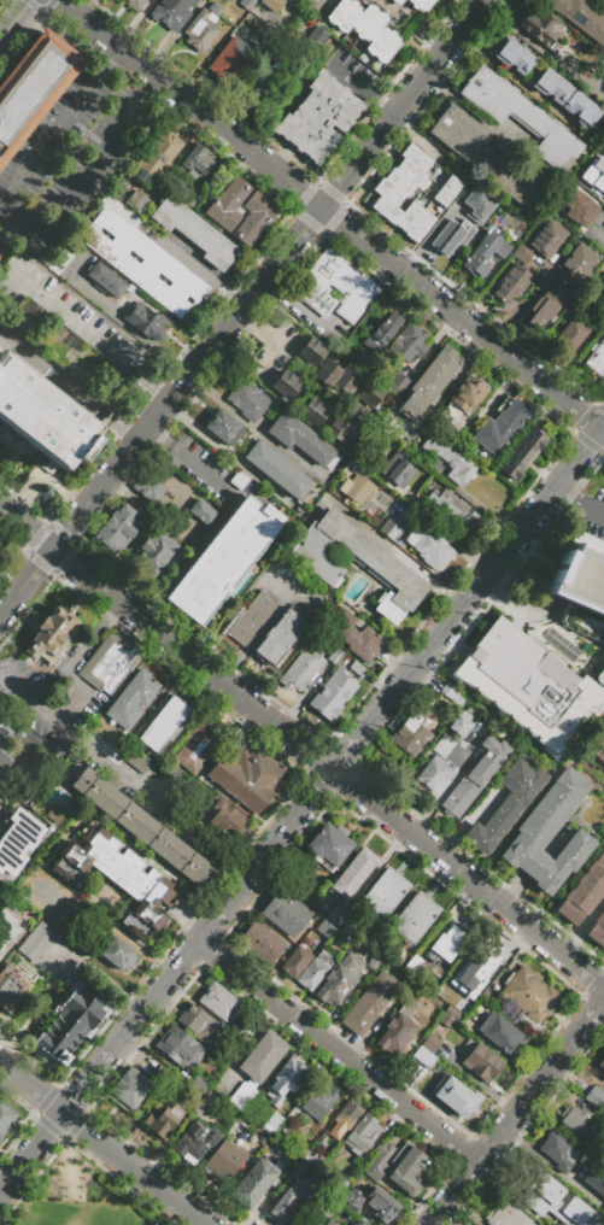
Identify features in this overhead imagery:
road: (481, 1)
building: (397, 2)
building: (134, 4)
building: (247, 4)
building: (272, 5)
building: (420, 5)
road: (69, 10)
building: (172, 12)
building: (581, 17)
road: (14, 19)
building: (204, 27)
building: (539, 27)
building: (365, 28)
building: (416, 31)
building: (316, 35)
parking lot: (420, 35)
road: (172, 37)
road: (430, 43)
building: (414, 45)
road: (543, 49)
building: (512, 55)
building: (231, 59)
road: (203, 63)
building: (550, 86)
building: (31, 87)
road: (520, 87)
building: (262, 88)
road: (231, 90)
road: (359, 90)
road: (74, 96)
building: (581, 110)
road: (474, 112)
building: (518, 115)
building: (319, 118)
road: (258, 124)
road: (416, 140)
parking lot: (287, 146)
building: (485, 156)
road: (278, 157)
parking lot: (76, 159)
building: (158, 159)
building: (195, 162)
building: (594, 174)
road: (83, 178)
road: (587, 188)
building: (446, 191)
building: (404, 193)
building: (188, 199)
building: (135, 200)
building: (477, 204)
building: (579, 206)
building: (239, 211)
road: (342, 224)
building: (194, 233)
road: (429, 235)
building: (448, 235)
building: (547, 239)
road: (596, 239)
building: (483, 253)
parking lot: (251, 254)
building: (523, 254)
building: (63, 259)
building: (140, 260)
road: (199, 260)
road: (262, 260)
building: (576, 262)
building: (105, 280)
building: (511, 283)
building: (335, 286)
road: (485, 289)
road: (518, 301)
road: (242, 306)
road: (298, 307)
building: (545, 307)
building: (145, 321)
road: (130, 330)
building: (573, 332)
building: (381, 333)
road: (80, 334)
road: (251, 339)
building: (272, 341)
building: (409, 342)
building: (311, 352)
road: (532, 352)
road: (569, 356)
building: (596, 358)
building: (370, 368)
building: (336, 377)
road: (452, 377)
parking lot: (149, 379)
road: (564, 379)
road: (262, 380)
road: (70, 383)
building: (287, 383)
building: (428, 383)
road: (159, 387)
building: (369, 393)
building: (246, 399)
building: (462, 400)
building: (313, 411)
building: (42, 415)
building: (347, 424)
building: (500, 426)
building: (223, 427)
road: (253, 427)
road: (603, 428)
building: (398, 430)
road: (603, 430)
building: (299, 438)
road: (222, 449)
building: (522, 452)
building: (448, 458)
road: (190, 461)
building: (397, 468)
building: (276, 469)
building: (239, 480)
building: (147, 487)
building: (357, 488)
road: (553, 493)
road: (171, 503)
road: (580, 503)
building: (452, 506)
building: (201, 512)
building: (117, 528)
building: (391, 528)
road: (198, 541)
building: (428, 546)
building: (1, 551)
building: (153, 552)
building: (222, 559)
building: (316, 562)
road: (488, 578)
building: (581, 586)
road: (517, 612)
building: (251, 619)
road: (517, 621)
building: (280, 635)
road: (258, 637)
building: (54, 639)
building: (360, 641)
road: (166, 645)
building: (334, 655)
building: (109, 663)
building: (357, 669)
building: (301, 670)
road: (417, 672)
building: (600, 676)
building: (526, 685)
building: (332, 693)
building: (131, 698)
building: (163, 723)
building: (461, 726)
building: (410, 732)
building: (107, 734)
building: (24, 738)
building: (597, 745)
building: (195, 746)
building: (442, 746)
building: (5, 755)
road: (347, 760)
building: (137, 763)
building: (248, 776)
building: (432, 776)
building: (474, 778)
road: (127, 780)
building: (505, 804)
building: (188, 811)
building: (224, 820)
building: (141, 827)
building: (550, 833)
road: (286, 840)
building: (16, 842)
building: (329, 844)
building: (353, 872)
building: (116, 877)
road: (469, 883)
building: (582, 891)
building: (382, 892)
building: (287, 913)
building: (414, 918)
building: (329, 921)
road: (219, 926)
building: (10, 928)
building: (597, 932)
building: (260, 942)
building: (36, 943)
building: (444, 948)
building: (369, 954)
building: (118, 955)
building: (295, 961)
building: (473, 965)
building: (313, 971)
building: (417, 972)
building: (339, 979)
building: (12, 989)
building: (528, 995)
road: (158, 1000)
building: (217, 1001)
building: (369, 1003)
building: (464, 1003)
road: (259, 1012)
building: (448, 1015)
road: (594, 1015)
road: (324, 1022)
building: (71, 1024)
building: (200, 1025)
building: (397, 1030)
building: (245, 1031)
building: (500, 1033)
building: (432, 1043)
road: (345, 1044)
road: (246, 1045)
building: (180, 1049)
road: (339, 1055)
building: (262, 1056)
building: (423, 1056)
building: (480, 1060)
building: (602, 1062)
building: (603, 1074)
building: (163, 1078)
road: (403, 1080)
road: (88, 1082)
building: (285, 1082)
road: (31, 1086)
building: (176, 1086)
building: (129, 1090)
building: (242, 1094)
road: (530, 1094)
building: (453, 1096)
building: (594, 1097)
building: (204, 1102)
building: (315, 1103)
road: (335, 1107)
building: (346, 1116)
building: (5, 1118)
building: (163, 1121)
building: (580, 1121)
building: (362, 1133)
building: (195, 1142)
building: (260, 1143)
building: (558, 1150)
road: (31, 1153)
building: (309, 1157)
building: (223, 1161)
building: (379, 1161)
road: (134, 1168)
building: (299, 1168)
building: (409, 1168)
road: (550, 1168)
building: (596, 1178)
road: (463, 1179)
building: (254, 1183)
building: (340, 1190)
park: (82, 1195)
building: (553, 1198)
road: (406, 1200)
building: (287, 1202)
building: (357, 1202)
building: (387, 1209)
road: (438, 1211)
building: (506, 1215)
building: (354, 1223)
building: (317, 1224)

